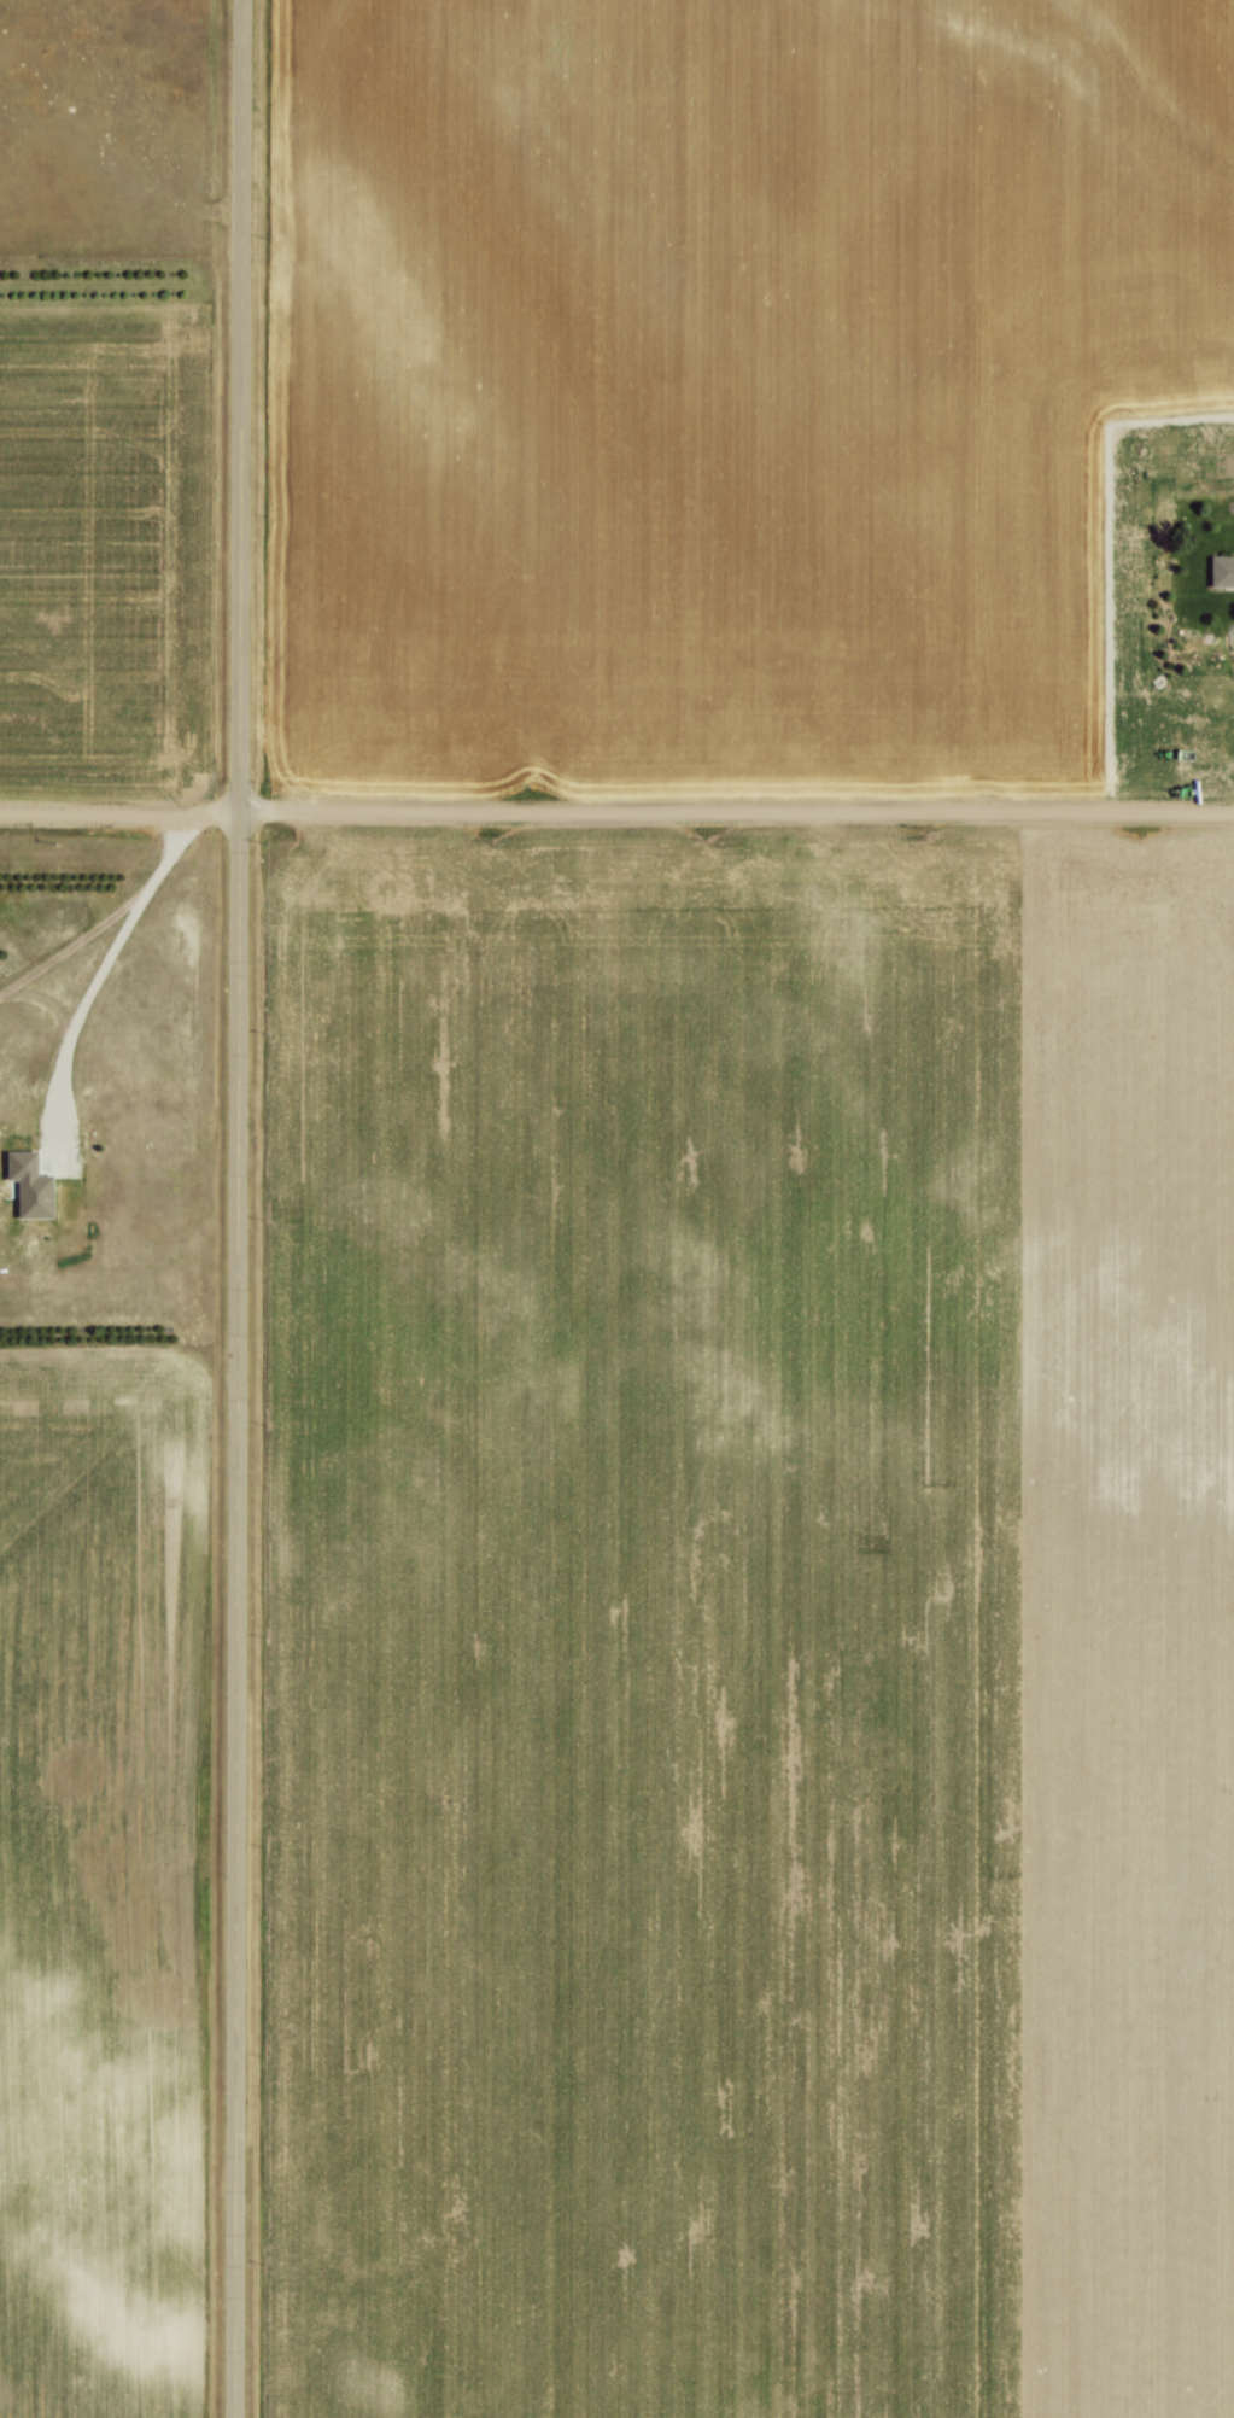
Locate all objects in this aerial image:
crop: (715, 382)
crop: (97, 551)
building: (1220, 572)
road: (616, 813)
road: (75, 940)
road: (105, 959)
road: (45, 997)
building: (77, 1175)
building: (24, 1186)
road: (238, 1209)
crop: (745, 1626)
crop: (97, 1885)

